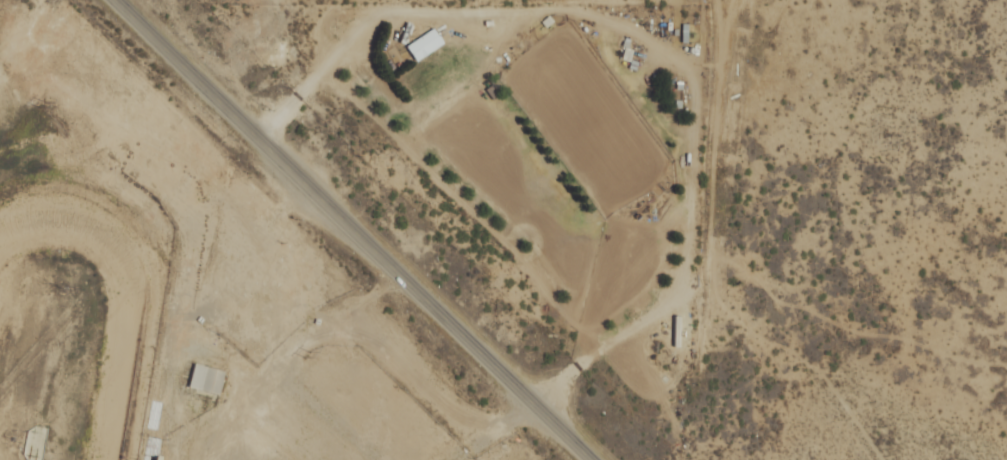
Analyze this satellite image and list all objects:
power tower: (36, 105)
road: (351, 229)
raceway: (126, 286)
power tower: (305, 354)
building: (205, 377)
road: (487, 432)

